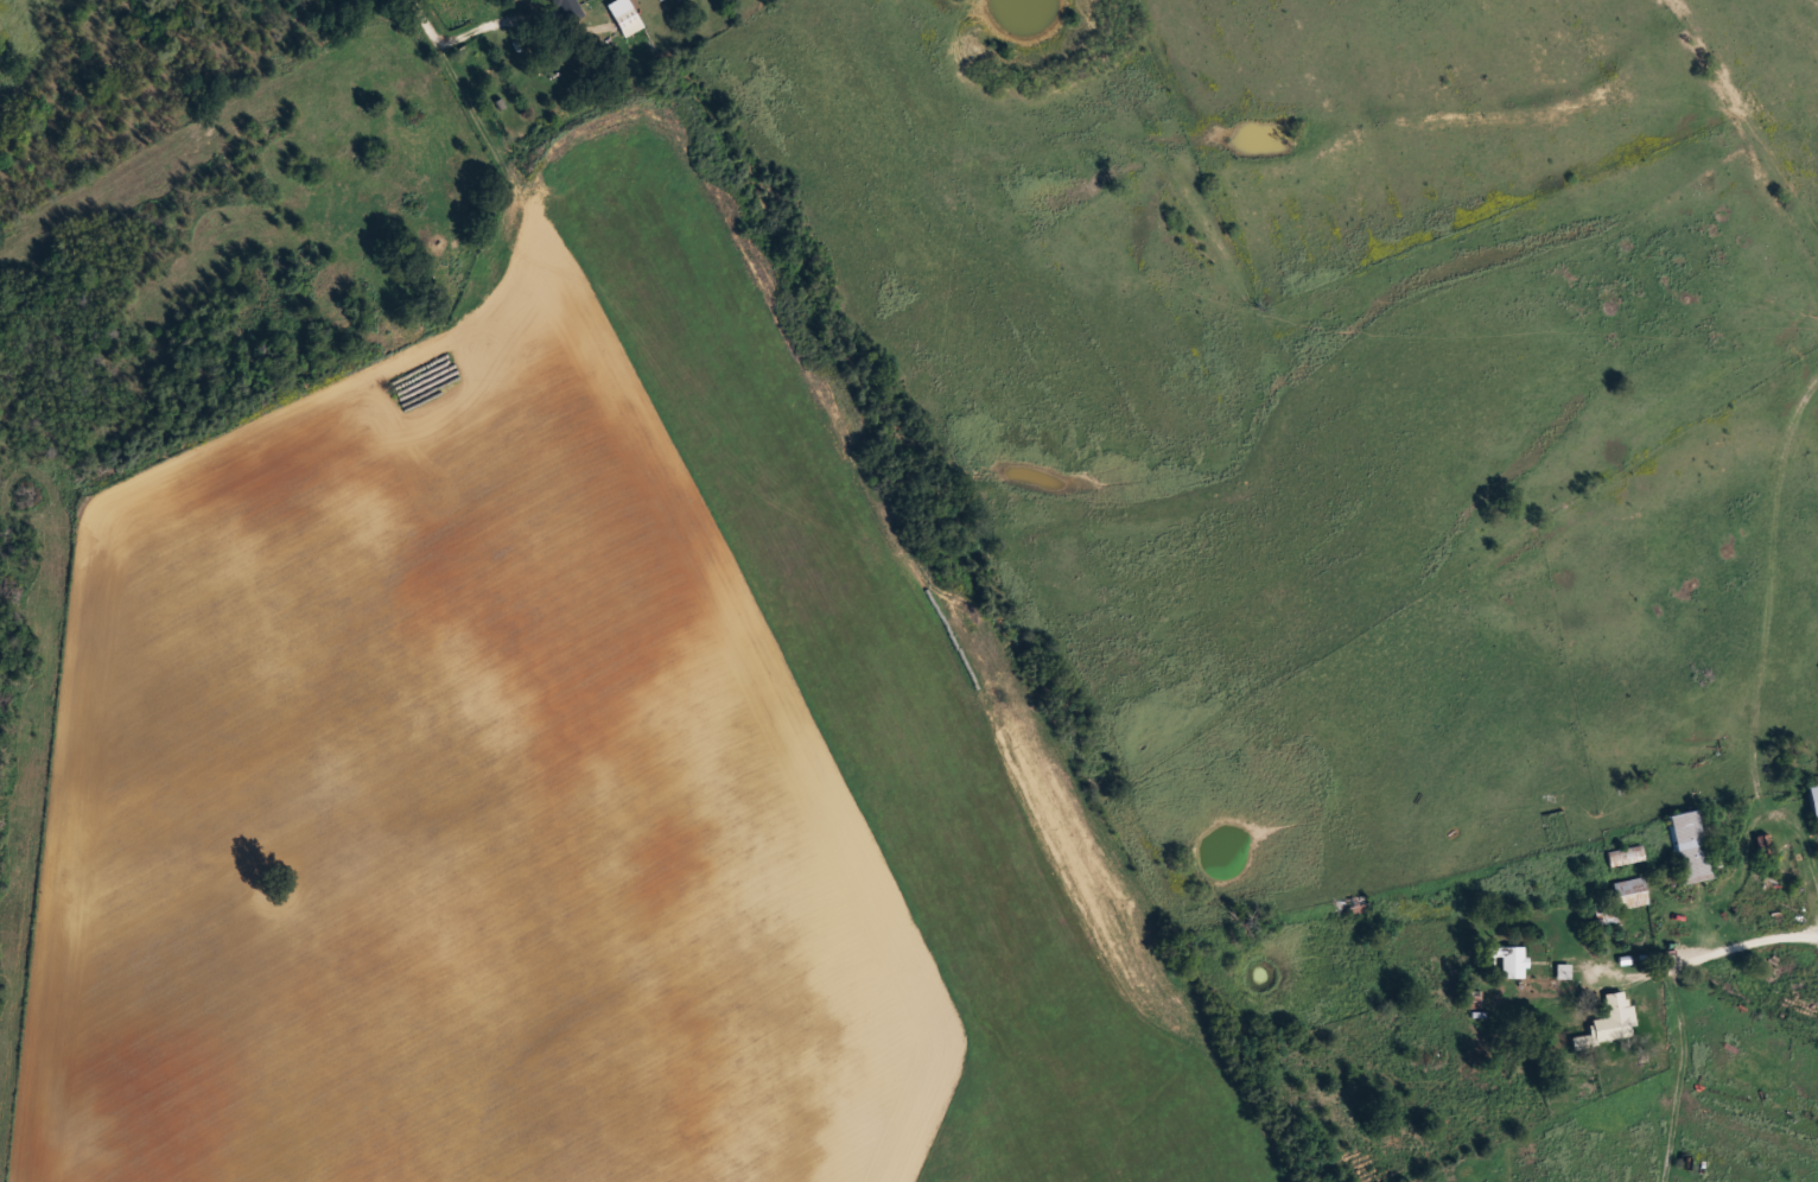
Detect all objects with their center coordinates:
building: (564, 9)
building: (621, 15)
road: (478, 102)
building: (1810, 797)
building: (1684, 845)
building: (1621, 853)
building: (1616, 898)
building: (1355, 903)
road: (1720, 945)
building: (1501, 958)
building: (1612, 1017)

